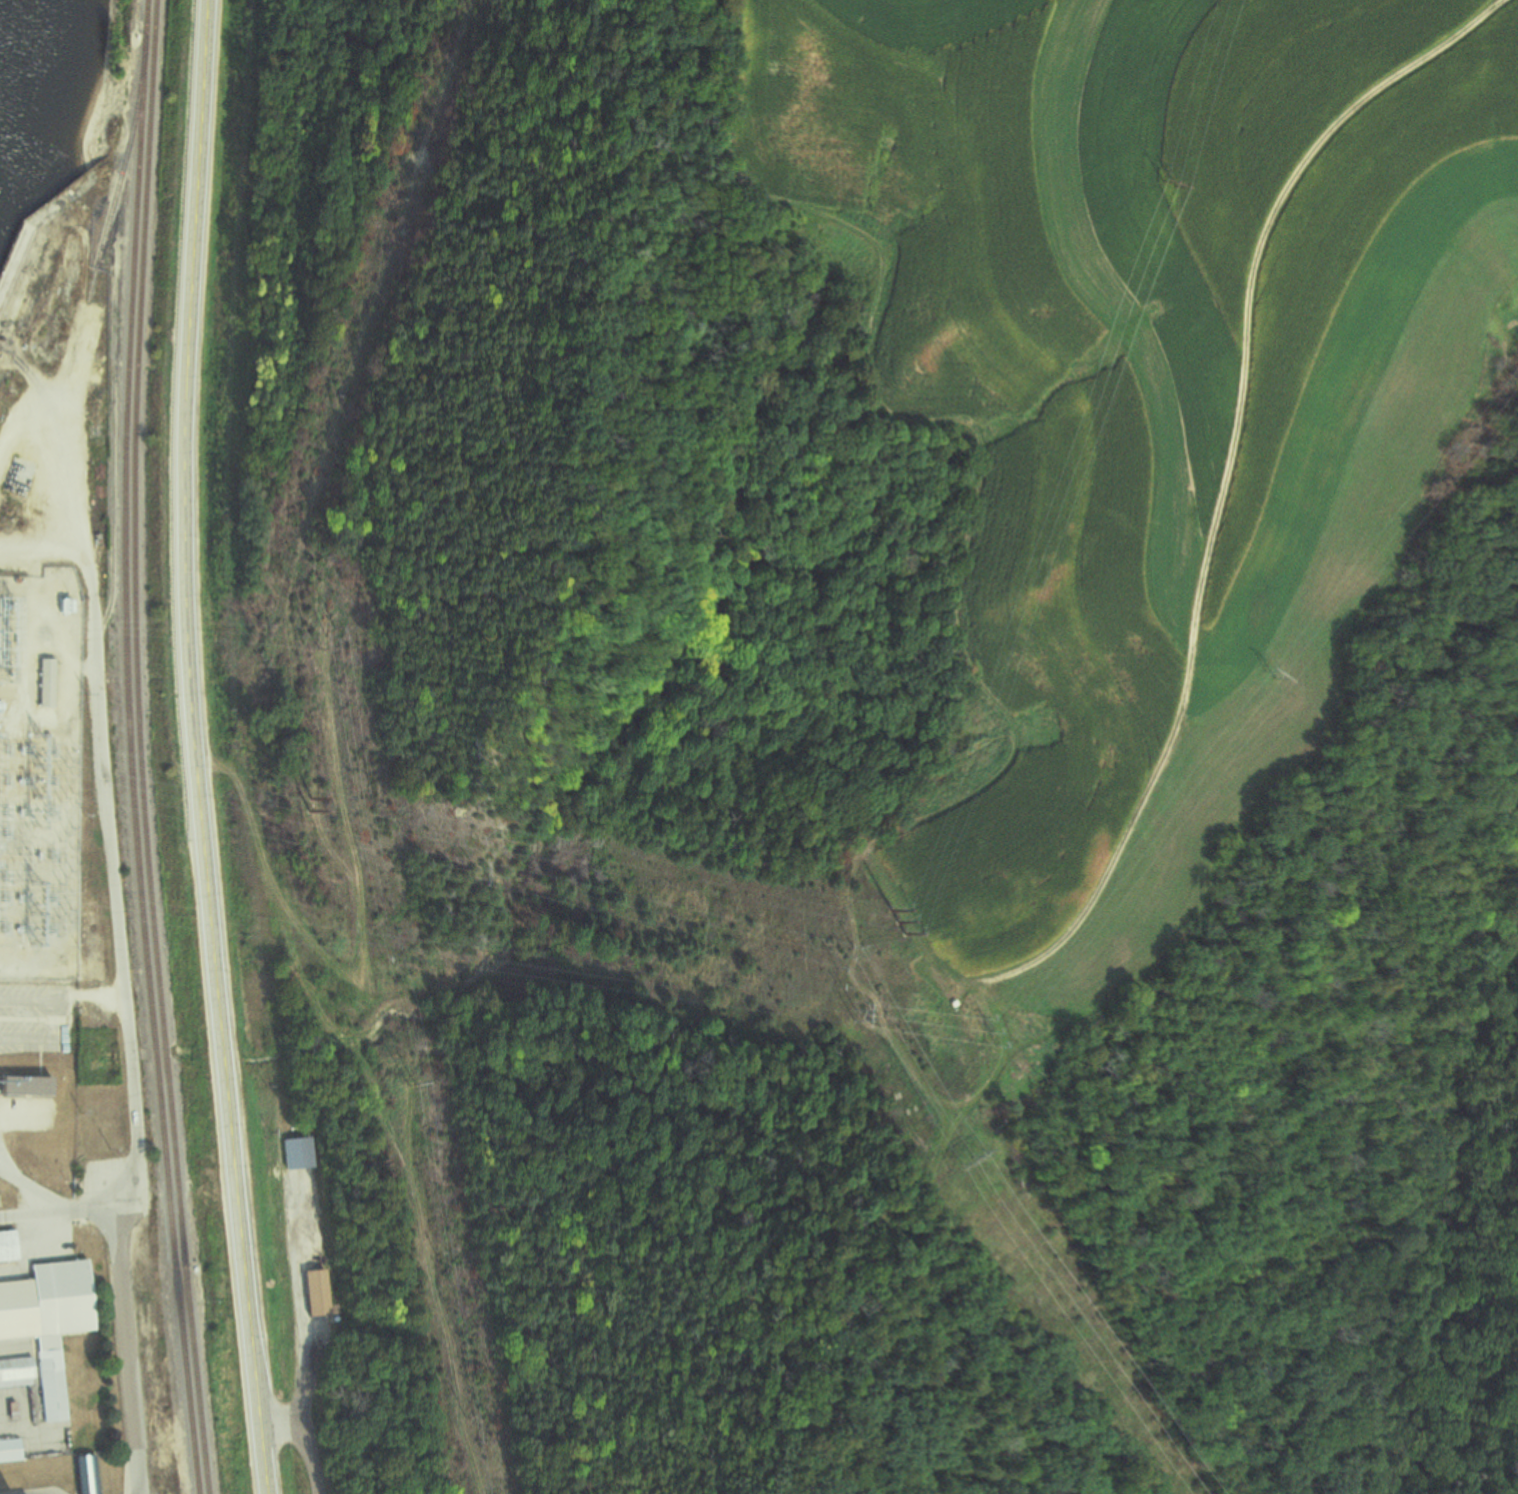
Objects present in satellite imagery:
power tower: (1163, 181)
railway: (113, 210)
building: (16, 478)
road: (1226, 485)
power tower: (327, 640)
power tower: (258, 660)
power tower: (1270, 674)
building: (49, 684)
railway: (130, 748)
railway: (140, 748)
road: (196, 748)
power substation: (41, 774)
power tower: (304, 806)
power tower: (480, 875)
road: (112, 884)
power tower: (893, 919)
power tower: (845, 958)
power tower: (852, 1015)
power tower: (993, 1032)
building: (25, 1082)
power tower: (408, 1088)
building: (302, 1154)
power tower: (976, 1159)
road: (63, 1213)
building: (10, 1247)
building: (52, 1321)
road: (130, 1350)
power plant: (60, 1362)
building: (17, 1373)
road: (301, 1377)
road: (304, 1443)
building: (12, 1451)
building: (89, 1475)

